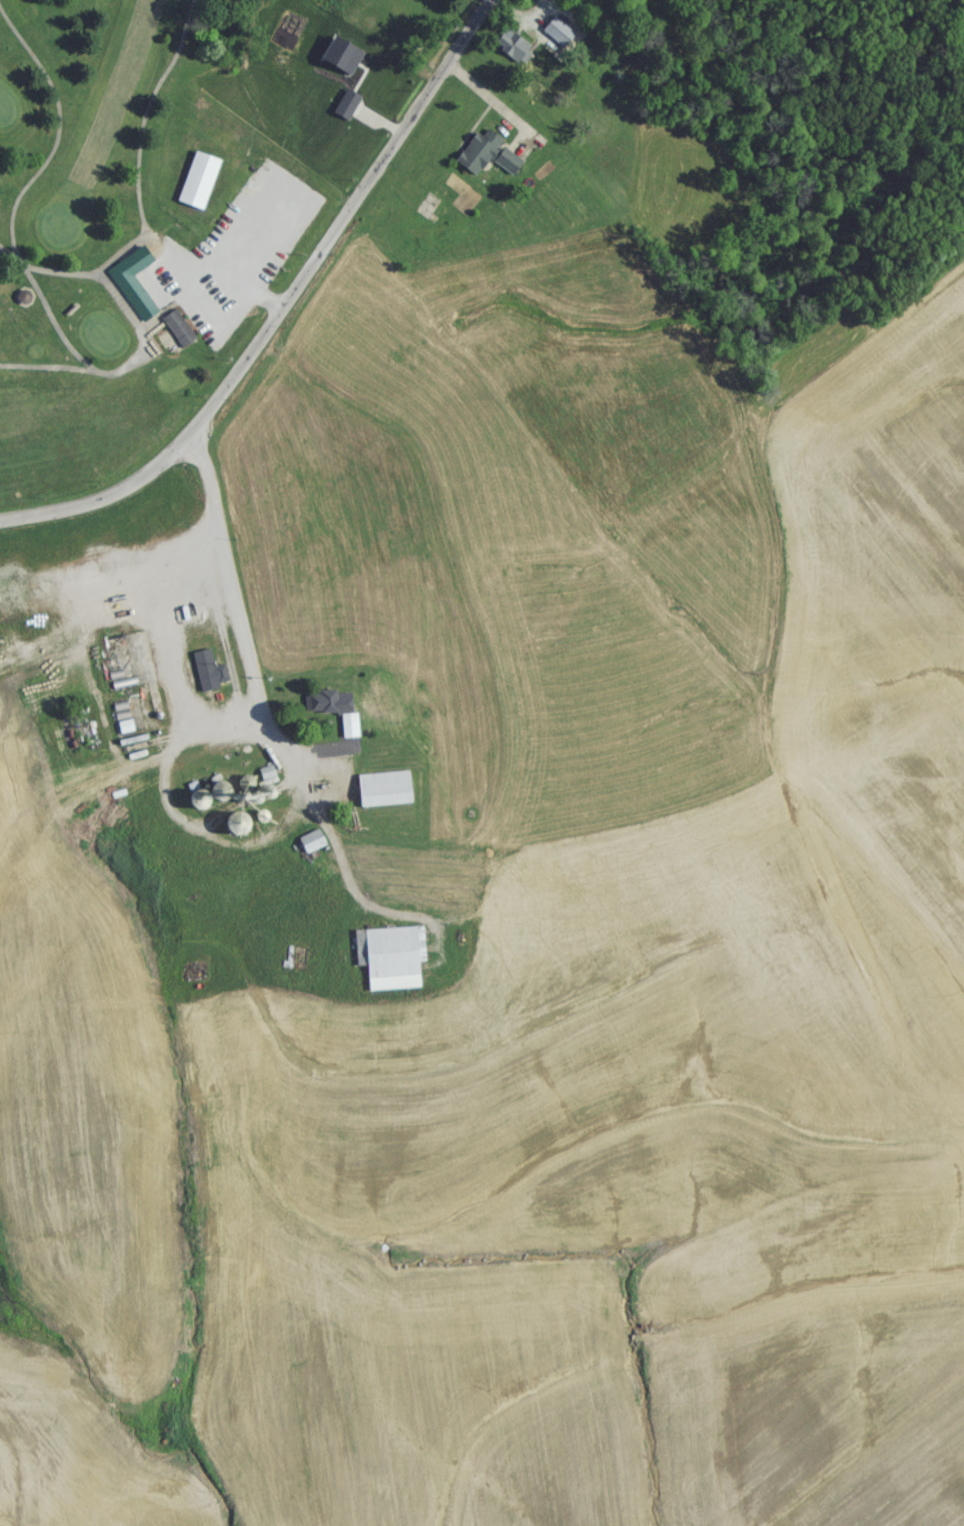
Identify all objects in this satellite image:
building: (559, 37)
building: (515, 52)
building: (379, 91)
building: (343, 113)
road: (58, 136)
road: (138, 158)
building: (485, 159)
building: (197, 186)
park: (225, 208)
building: (425, 217)
road: (6, 257)
road: (121, 257)
road: (245, 285)
building: (131, 288)
building: (24, 303)
road: (280, 312)
building: (178, 334)
road: (133, 367)
road: (48, 373)
road: (232, 591)
building: (206, 677)
building: (329, 710)
building: (349, 735)
building: (380, 793)
building: (310, 848)
building: (387, 963)

